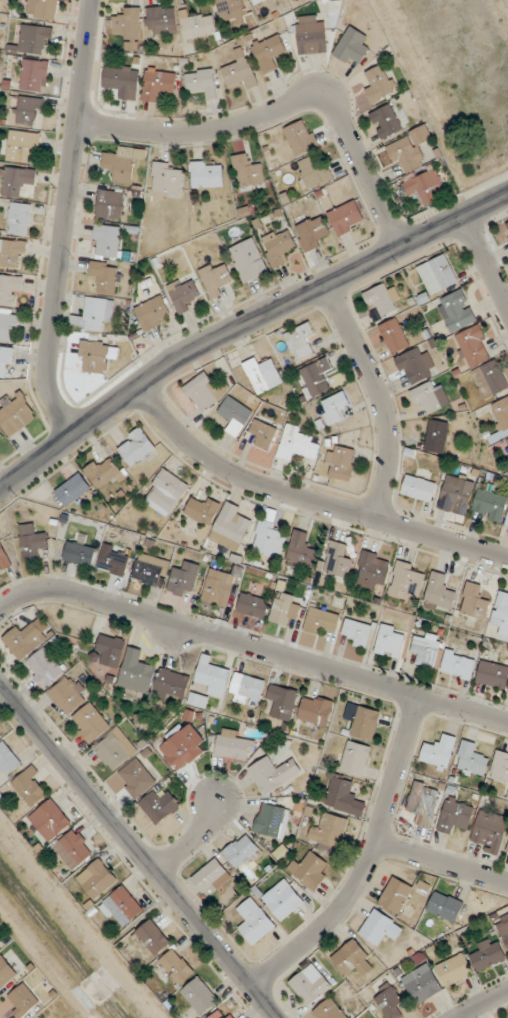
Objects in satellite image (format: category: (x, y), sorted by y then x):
building: (257, 1)
building: (43, 9)
building: (230, 9)
building: (162, 20)
building: (198, 25)
building: (128, 28)
building: (311, 35)
building: (34, 39)
building: (351, 47)
building: (269, 53)
building: (240, 71)
building: (34, 76)
building: (119, 81)
building: (202, 82)
building: (158, 84)
building: (380, 84)
road: (285, 103)
building: (29, 111)
building: (386, 121)
building: (301, 137)
building: (23, 147)
building: (409, 149)
building: (123, 163)
building: (248, 171)
building: (315, 171)
building: (207, 174)
building: (168, 179)
building: (19, 182)
building: (425, 186)
building: (111, 204)
building: (346, 218)
building: (20, 219)
road: (65, 219)
building: (312, 233)
building: (108, 241)
building: (279, 247)
building: (11, 252)
building: (249, 260)
road: (486, 261)
building: (438, 275)
building: (106, 277)
building: (216, 278)
building: (10, 289)
building: (182, 294)
building: (382, 300)
building: (456, 311)
building: (152, 313)
building: (94, 314)
building: (8, 323)
road: (244, 323)
building: (394, 336)
building: (300, 341)
building: (474, 347)
building: (98, 355)
building: (6, 359)
building: (415, 365)
building: (263, 375)
building: (317, 377)
building: (493, 378)
building: (203, 391)
road: (379, 396)
building: (430, 397)
building: (335, 407)
building: (16, 415)
building: (235, 416)
building: (500, 420)
building: (0, 434)
building: (263, 434)
building: (436, 436)
building: (507, 439)
building: (297, 443)
building: (137, 447)
building: (340, 463)
building: (104, 473)
building: (419, 488)
building: (73, 490)
building: (167, 492)
building: (458, 493)
road: (307, 500)
building: (490, 505)
building: (203, 510)
building: (231, 528)
building: (268, 539)
building: (32, 542)
building: (302, 551)
building: (80, 552)
building: (4, 557)
building: (336, 559)
building: (115, 560)
building: (372, 570)
building: (150, 571)
building: (185, 580)
building: (407, 581)
building: (219, 588)
building: (440, 593)
building: (475, 602)
building: (253, 606)
building: (286, 608)
building: (501, 610)
building: (321, 621)
building: (357, 633)
building: (25, 641)
building: (390, 643)
road: (253, 646)
building: (426, 649)
building: (109, 651)
building: (458, 664)
building: (44, 668)
building: (493, 675)
building: (137, 676)
building: (212, 677)
building: (172, 685)
building: (246, 688)
building: (69, 695)
building: (199, 701)
building: (282, 701)
building: (316, 710)
building: (362, 720)
building: (91, 723)
building: (0, 737)
building: (233, 746)
building: (115, 749)
building: (181, 749)
building: (439, 752)
building: (8, 759)
building: (356, 759)
building: (471, 760)
building: (500, 767)
building: (275, 772)
building: (137, 778)
building: (29, 787)
building: (344, 797)
building: (424, 804)
building: (159, 806)
building: (455, 816)
building: (50, 820)
building: (273, 820)
building: (329, 832)
building: (489, 833)
road: (191, 840)
building: (74, 849)
road: (138, 851)
building: (242, 851)
road: (367, 861)
road: (441, 862)
building: (310, 870)
building: (212, 876)
building: (97, 879)
building: (396, 895)
building: (284, 899)
building: (123, 906)
building: (445, 906)
building: (255, 921)
building: (381, 928)
building: (503, 929)
building: (153, 937)
building: (1, 942)
building: (488, 956)
building: (353, 959)
building: (177, 966)
building: (455, 970)
building: (6, 972)
building: (422, 984)
building: (310, 985)
building: (200, 996)
building: (23, 1000)
building: (391, 1004)
road: (482, 1004)
building: (329, 1010)
building: (222, 1014)
building: (48, 1017)

